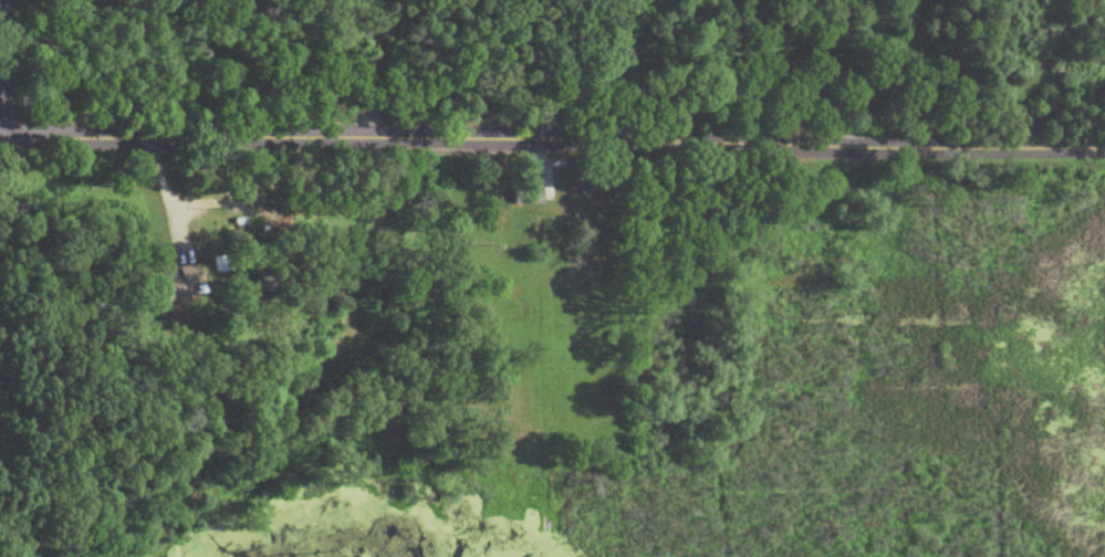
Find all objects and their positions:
road: (368, 60)
road: (552, 141)
road: (167, 190)
building: (175, 282)

